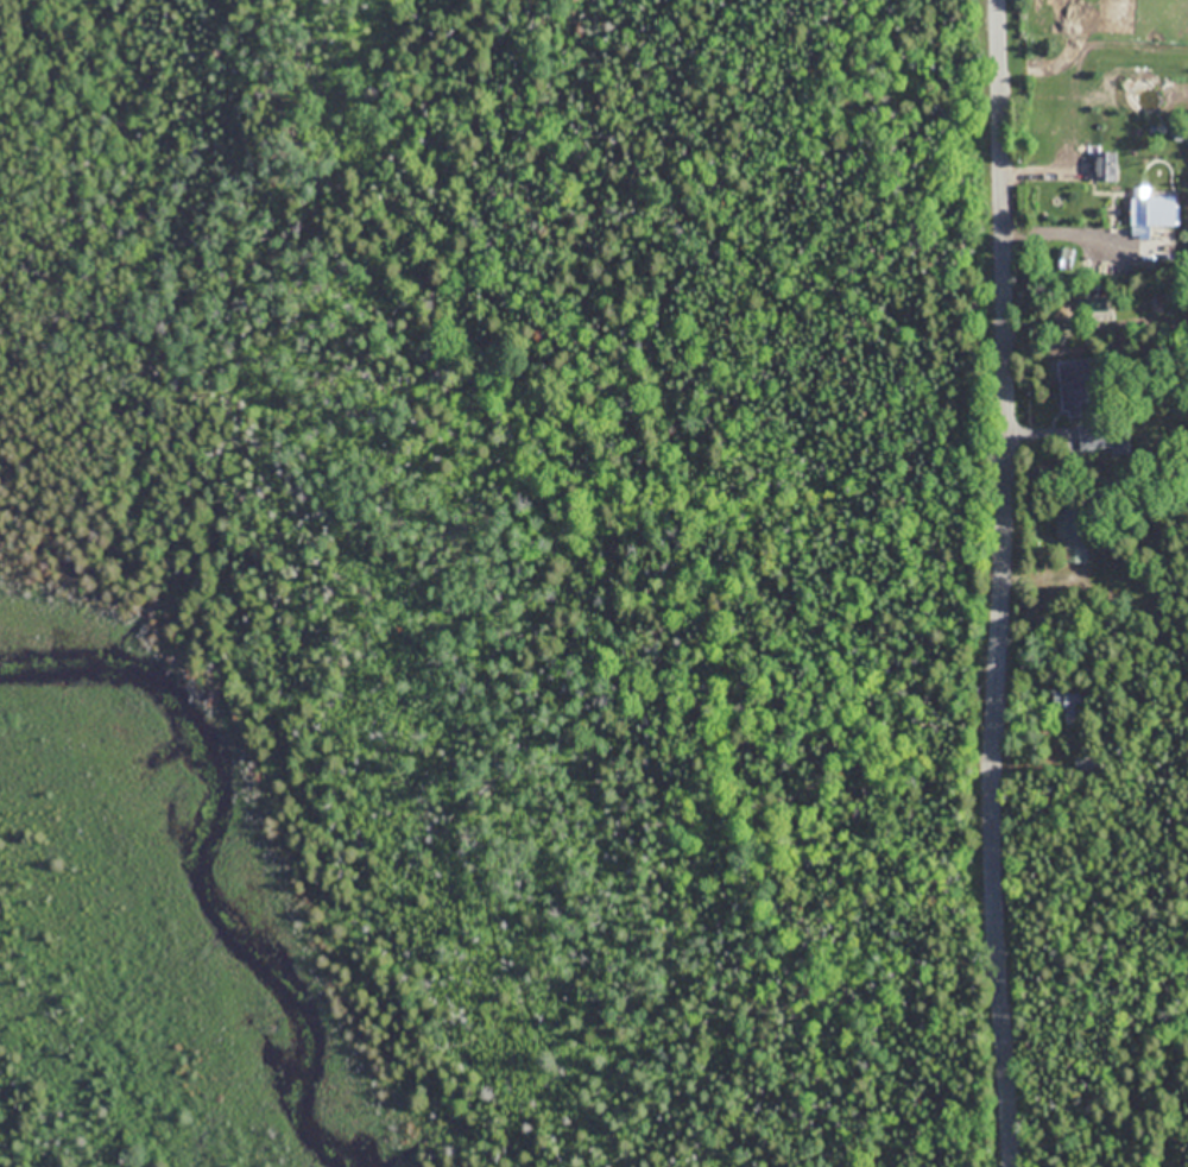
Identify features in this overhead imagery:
building: (1104, 165)
road: (1034, 170)
building: (1151, 209)
road: (1048, 239)
building: (1076, 387)
building: (1106, 436)
building: (1076, 543)
road: (999, 583)
building: (1073, 704)
river: (203, 858)

